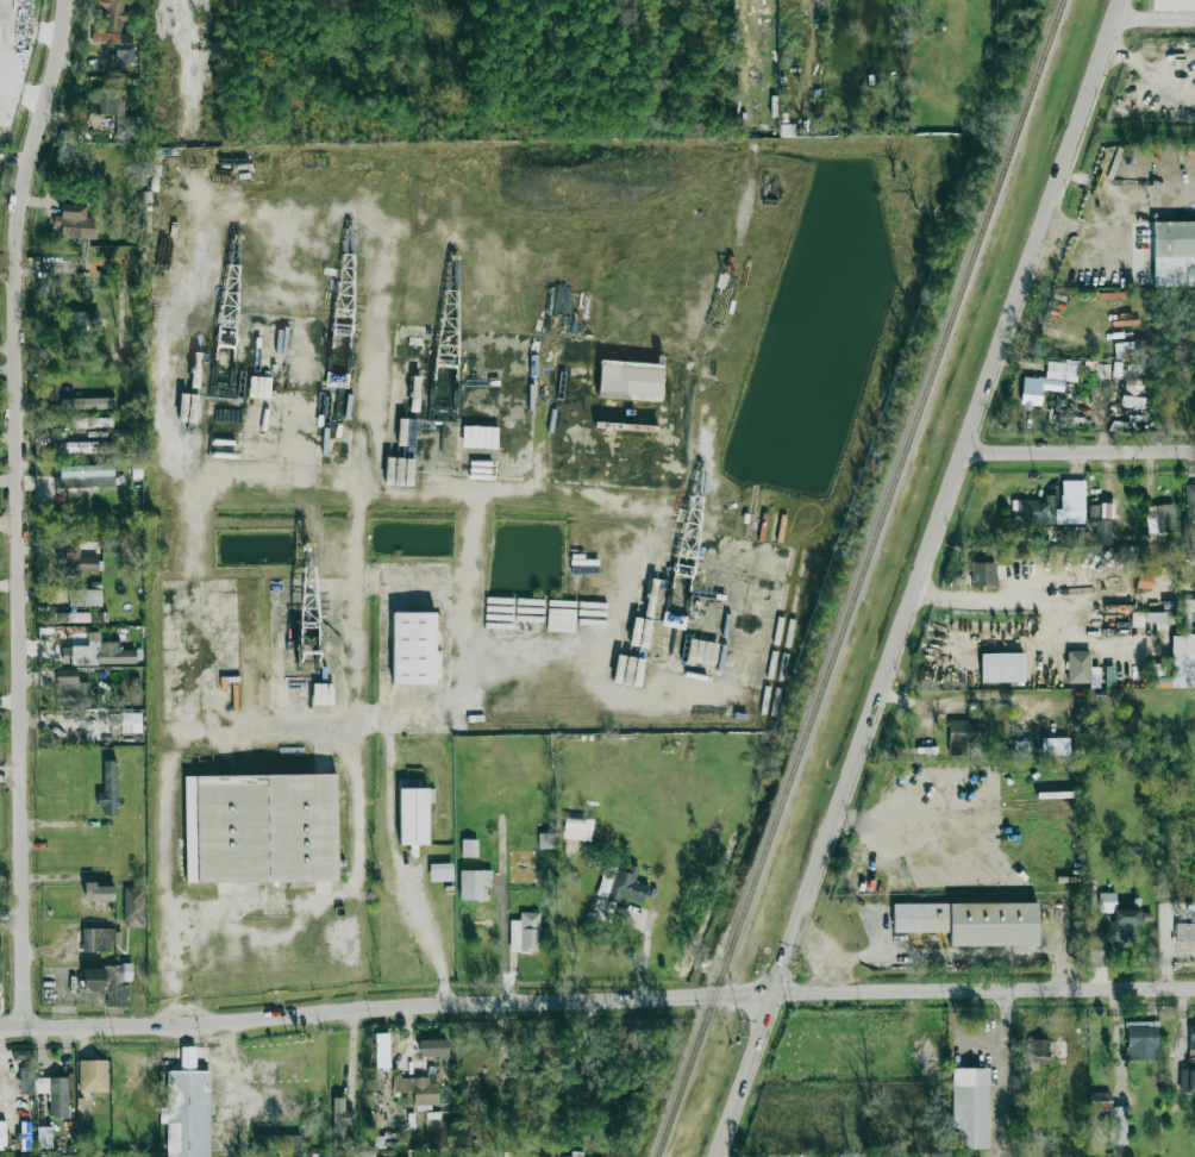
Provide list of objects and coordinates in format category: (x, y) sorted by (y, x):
building: (111, 20)
road: (1152, 21)
building: (124, 52)
building: (113, 111)
building: (74, 221)
road: (1124, 224)
building: (1174, 254)
road: (61, 270)
building: (81, 323)
building: (630, 379)
building: (1047, 381)
building: (73, 423)
building: (88, 446)
road: (1076, 452)
building: (87, 475)
building: (1071, 502)
building: (1190, 502)
road: (13, 509)
building: (1034, 511)
building: (1160, 517)
road: (7, 523)
building: (1102, 531)
building: (80, 561)
building: (983, 574)
road: (914, 577)
railway: (862, 578)
building: (85, 596)
road: (995, 596)
building: (77, 617)
building: (418, 649)
building: (101, 652)
building: (1183, 655)
building: (1002, 667)
building: (1078, 667)
building: (70, 689)
building: (134, 690)
building: (114, 718)
building: (131, 721)
building: (961, 736)
building: (1055, 746)
building: (1024, 748)
road: (171, 759)
road: (8, 775)
building: (108, 788)
building: (412, 815)
road: (891, 818)
building: (261, 830)
building: (545, 839)
building: (469, 848)
building: (439, 871)
road: (402, 880)
building: (471, 882)
building: (621, 884)
building: (98, 892)
building: (133, 906)
building: (1115, 919)
building: (970, 921)
building: (524, 931)
building: (1184, 931)
building: (96, 938)
building: (0, 955)
building: (108, 982)
road: (983, 992)
traffic signals: (771, 994)
road: (384, 1006)
road: (964, 1028)
building: (1191, 1036)
building: (1140, 1039)
building: (381, 1050)
building: (1037, 1051)
building: (24, 1055)
building: (600, 1069)
road: (1005, 1074)
building: (26, 1075)
building: (92, 1075)
building: (1187, 1076)
building: (417, 1088)
building: (55, 1094)
building: (969, 1106)
building: (186, 1108)
building: (8, 1109)
building: (1110, 1115)
building: (339, 1120)
building: (42, 1122)
building: (277, 1140)
building: (318, 1155)
building: (573, 1155)

